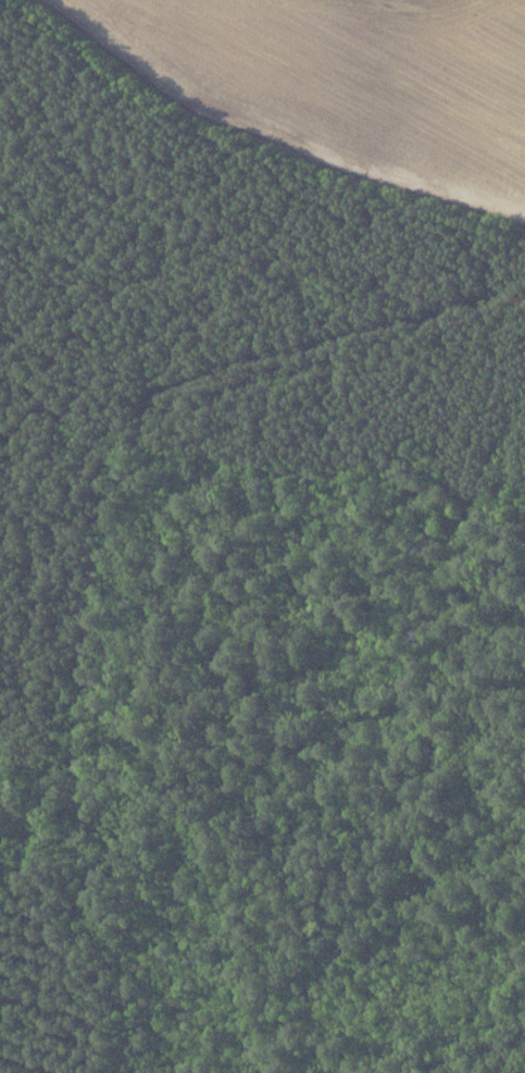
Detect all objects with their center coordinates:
crop: (346, 81)

